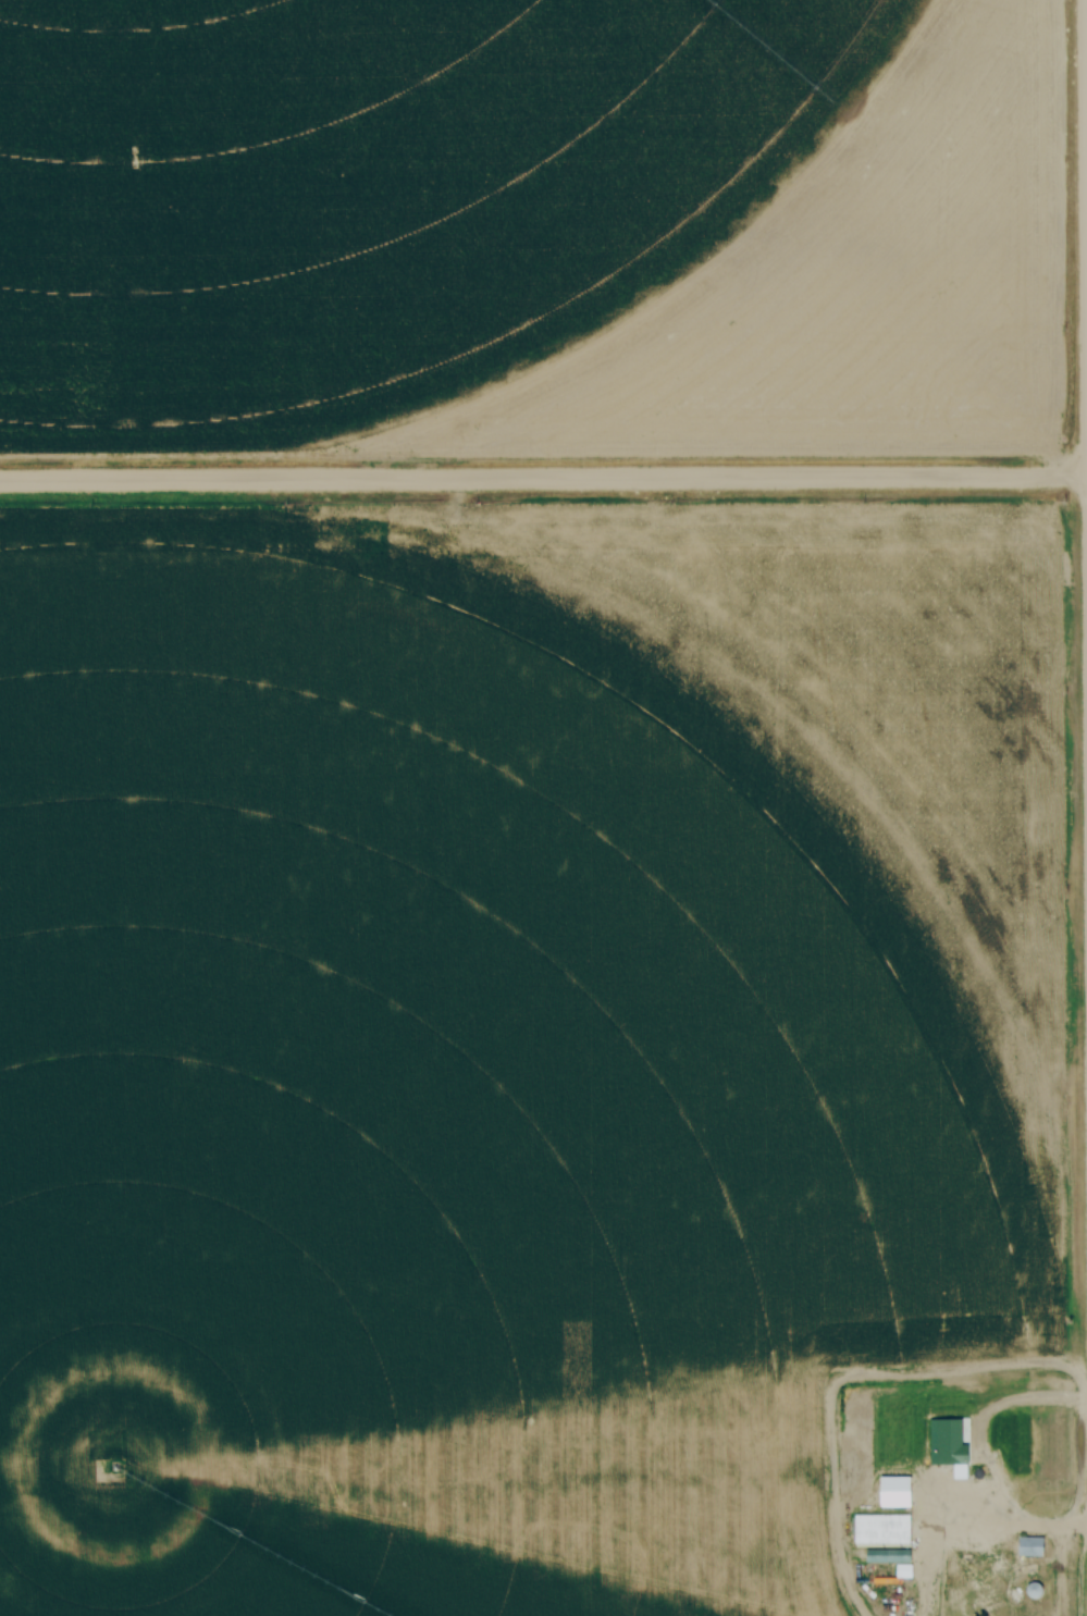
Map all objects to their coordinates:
road: (543, 483)
road: (1016, 1405)
building: (949, 1444)
building: (879, 1528)
building: (1029, 1546)
building: (1033, 1590)
building: (940, 1595)

